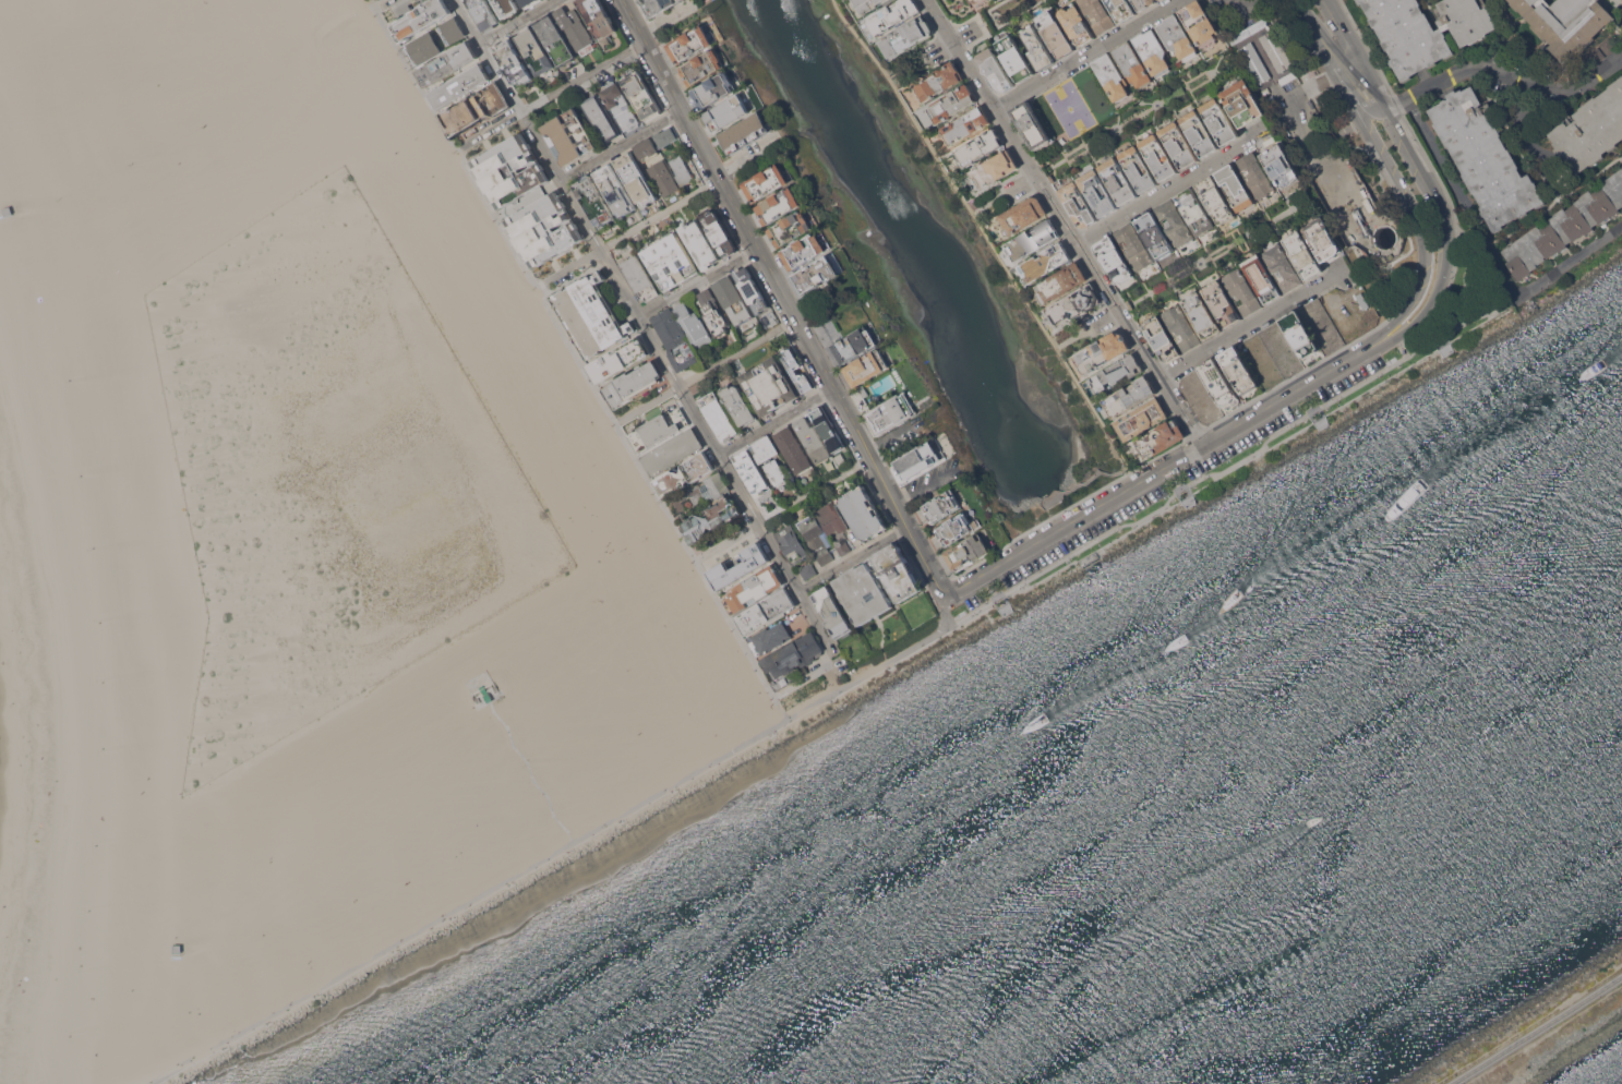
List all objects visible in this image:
building: (968, 0)
building: (973, 0)
road: (364, 1)
road: (374, 1)
road: (388, 2)
building: (528, 2)
building: (1143, 3)
building: (867, 4)
building: (657, 5)
building: (507, 7)
road: (380, 8)
building: (1121, 9)
building: (484, 13)
building: (1097, 14)
building: (892, 15)
building: (598, 17)
building: (420, 19)
road: (515, 21)
road: (984, 22)
building: (1076, 22)
building: (1200, 23)
building: (1567, 23)
building: (454, 29)
building: (575, 29)
building: (1426, 29)
building: (1056, 33)
building: (906, 37)
building: (1177, 37)
building: (554, 38)
building: (689, 44)
road: (637, 46)
building: (1036, 46)
building: (424, 48)
building: (534, 51)
building: (1153, 51)
road: (1086, 55)
building: (1014, 58)
building: (513, 62)
building: (447, 63)
building: (1132, 63)
building: (702, 67)
parking lot: (1288, 69)
building: (995, 70)
building: (1112, 75)
road: (1505, 75)
building: (938, 81)
building: (460, 86)
road: (982, 88)
building: (714, 89)
building: (641, 95)
road: (546, 96)
building: (1242, 103)
road: (1413, 103)
building: (951, 104)
building: (621, 107)
building: (476, 108)
park: (1070, 108)
building: (726, 112)
road: (1373, 113)
building: (601, 118)
building: (1219, 121)
road: (1308, 122)
building: (1031, 124)
road: (1124, 124)
building: (965, 125)
building: (1591, 129)
building: (746, 131)
building: (1200, 133)
building: (570, 136)
building: (664, 136)
road: (458, 143)
building: (1179, 144)
road: (621, 145)
building: (978, 147)
building: (646, 148)
road: (745, 156)
building: (1158, 157)
building: (1485, 158)
building: (1281, 166)
building: (1139, 168)
building: (681, 169)
building: (509, 170)
building: (993, 170)
road: (1394, 172)
building: (1255, 174)
building: (662, 177)
road: (1423, 177)
building: (636, 179)
building: (1119, 180)
building: (766, 182)
parking lot: (1353, 185)
building: (1236, 186)
road: (1169, 189)
building: (615, 190)
building: (1097, 192)
road: (1371, 195)
building: (1216, 198)
building: (593, 201)
road: (1467, 202)
building: (1078, 204)
building: (778, 205)
road: (1394, 206)
building: (1196, 210)
road: (659, 213)
building: (1020, 216)
building: (1175, 224)
building: (1564, 226)
building: (790, 228)
building: (544, 229)
building: (719, 232)
building: (1155, 234)
road: (988, 239)
building: (1032, 239)
building: (1321, 239)
building: (699, 243)
building: (1134, 246)
building: (803, 251)
building: (1302, 255)
building: (1114, 257)
road: (1204, 260)
road: (1570, 260)
road: (605, 261)
building: (670, 261)
building: (1045, 262)
road: (572, 265)
building: (1283, 267)
building: (816, 273)
building: (638, 277)
building: (1262, 278)
road: (1395, 280)
road: (698, 281)
road: (541, 282)
building: (1060, 282)
road: (1391, 284)
road: (1483, 287)
building: (750, 289)
building: (1242, 291)
road: (783, 296)
building: (734, 301)
building: (1222, 303)
building: (1074, 305)
road: (1118, 312)
building: (713, 313)
building: (590, 315)
building: (1202, 315)
building: (694, 325)
road: (1249, 325)
building: (1181, 327)
road: (1086, 329)
building: (1299, 333)
building: (674, 338)
building: (1162, 338)
road: (1408, 338)
building: (854, 345)
road: (737, 351)
building: (1102, 351)
building: (618, 359)
road: (579, 360)
building: (866, 368)
building: (1238, 370)
building: (793, 371)
building: (1117, 372)
building: (1218, 382)
building: (632, 383)
building: (769, 385)
road: (1300, 386)
road: (1289, 394)
building: (1129, 396)
road: (646, 402)
building: (738, 402)
road: (1311, 405)
building: (891, 412)
building: (719, 415)
building: (1141, 419)
road: (776, 420)
building: (660, 427)
building: (828, 429)
building: (812, 439)
building: (1157, 439)
road: (1179, 442)
building: (793, 449)
road: (1258, 449)
building: (673, 451)
building: (769, 457)
building: (918, 460)
park: (582, 468)
building: (750, 472)
building: (684, 473)
road: (1174, 477)
road: (1090, 478)
road: (1139, 480)
road: (814, 489)
building: (701, 491)
building: (941, 505)
building: (864, 513)
building: (831, 517)
building: (710, 519)
road: (1065, 523)
building: (957, 528)
building: (816, 538)
park: (634, 539)
road: (725, 540)
building: (791, 543)
building: (842, 546)
road: (1081, 547)
building: (969, 551)
park: (608, 553)
road: (852, 558)
road: (1000, 562)
building: (738, 566)
building: (807, 570)
building: (897, 571)
road: (992, 583)
road: (794, 587)
building: (753, 588)
road: (945, 590)
building: (862, 592)
building: (765, 611)
building: (832, 612)
road: (945, 614)
road: (928, 637)
building: (769, 638)
building: (792, 654)
road: (804, 676)
building: (480, 683)
road: (468, 901)
building: (191, 951)
road: (1535, 1029)

